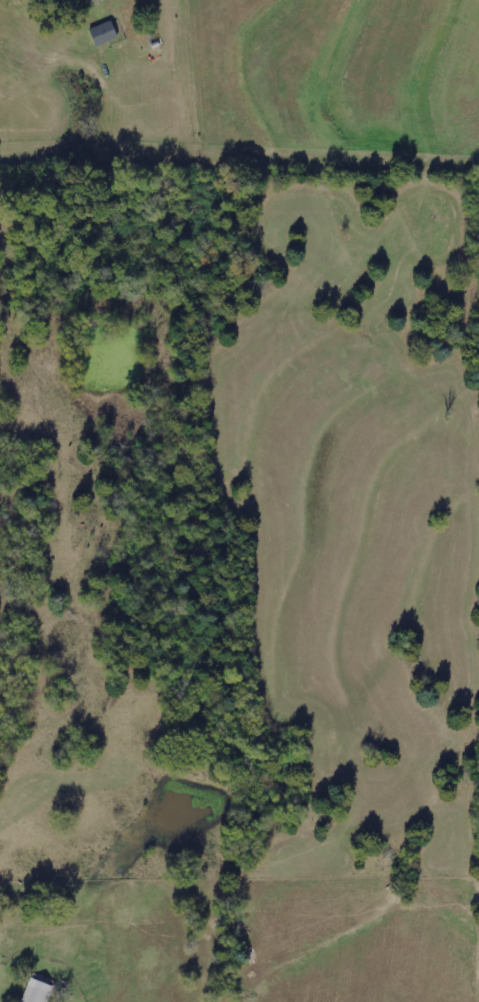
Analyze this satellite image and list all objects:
building: (104, 34)
building: (37, 992)

